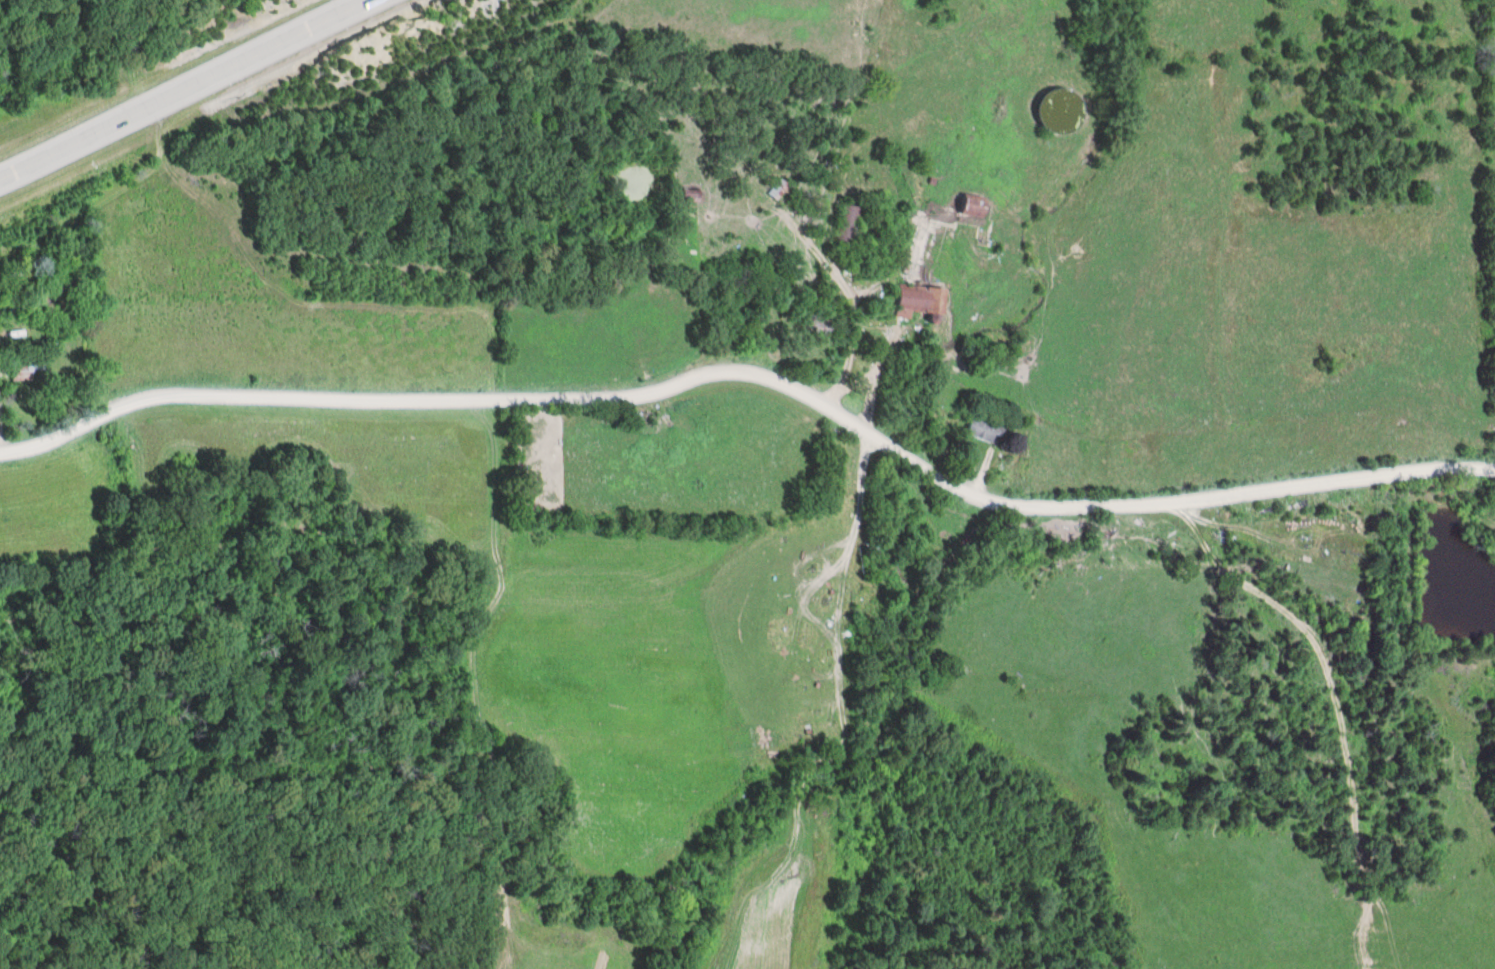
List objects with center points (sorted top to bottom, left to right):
road: (188, 87)
building: (1060, 111)
building: (692, 196)
building: (973, 210)
building: (848, 227)
building: (920, 304)
building: (26, 368)
road: (758, 370)
building: (984, 430)

